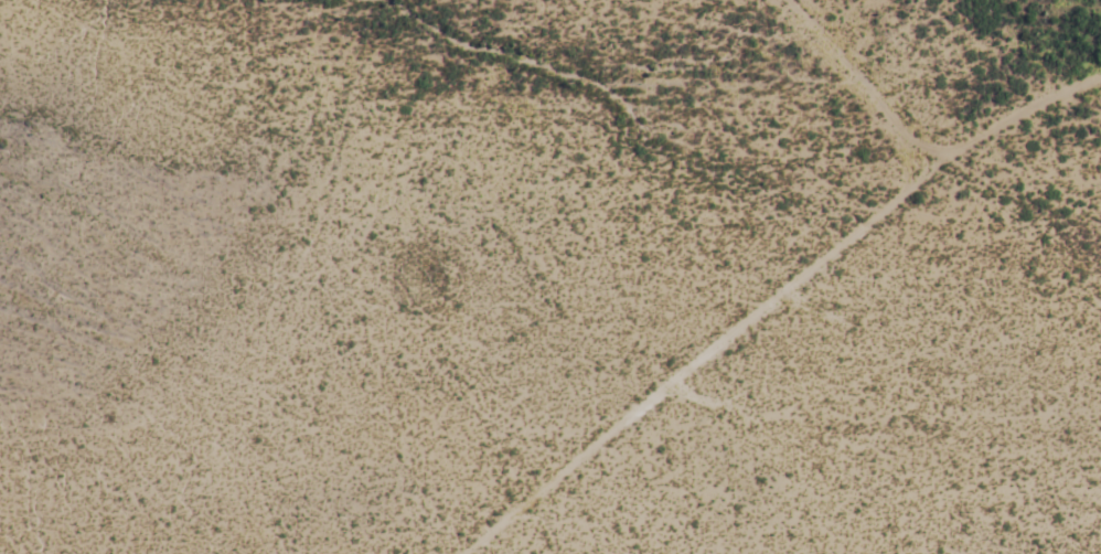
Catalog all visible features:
road: (862, 79)
road: (776, 302)

